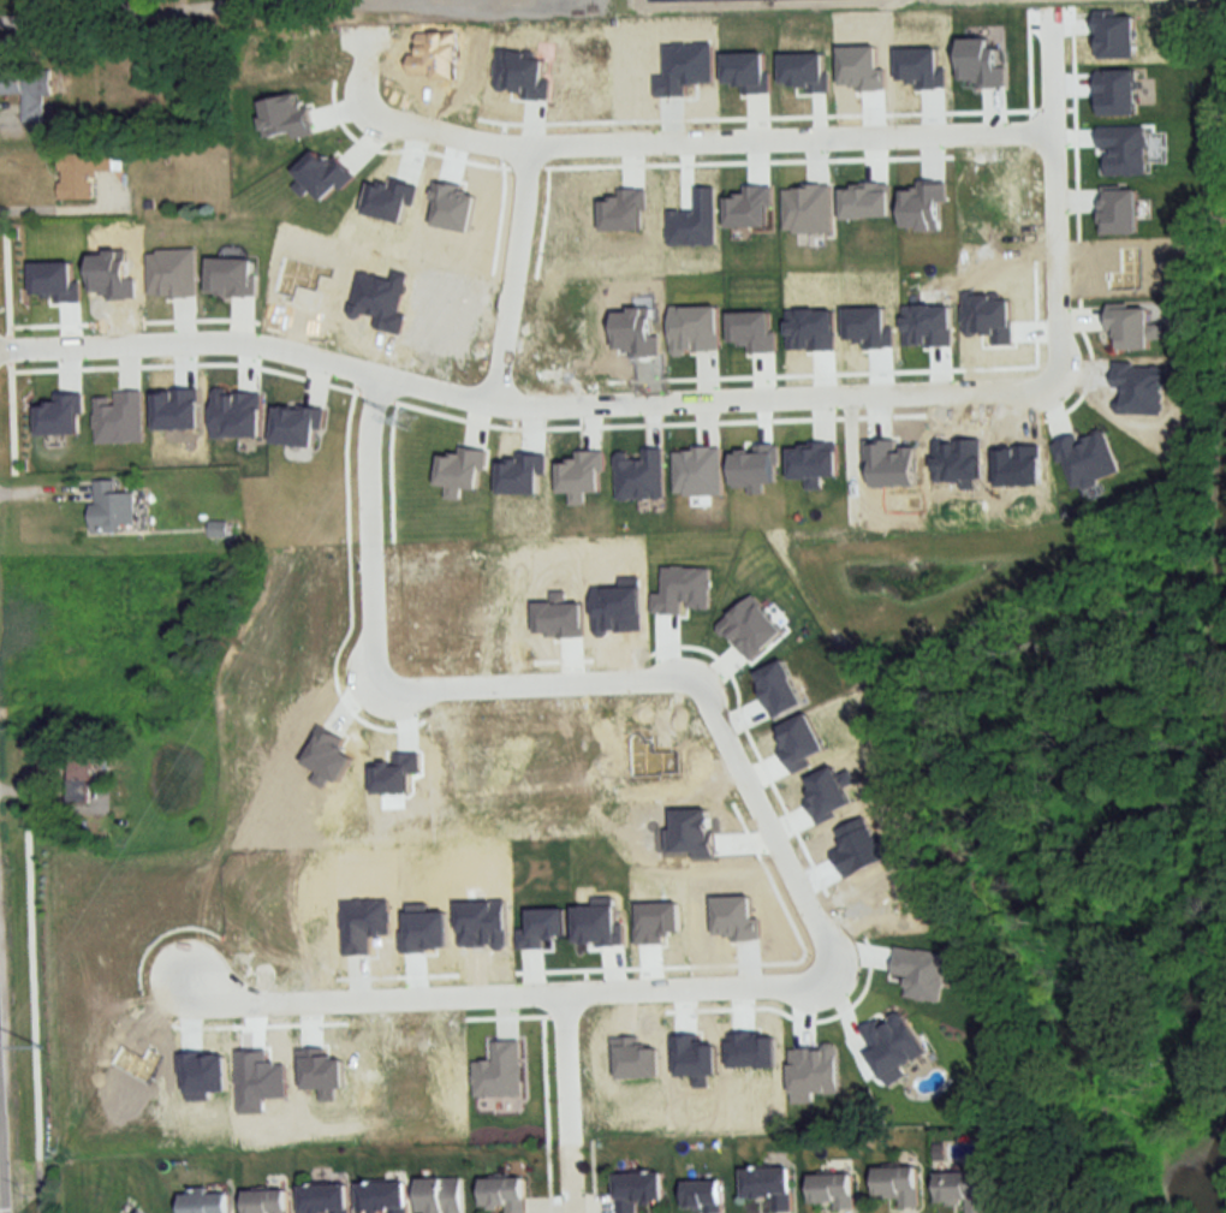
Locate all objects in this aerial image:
road: (175, 13)
building: (26, 91)
road: (665, 138)
building: (83, 173)
road: (1053, 196)
road: (511, 274)
road: (525, 403)
building: (113, 415)
power tower: (406, 417)
road: (44, 484)
building: (113, 510)
road: (365, 528)
road: (532, 685)
building: (79, 773)
road: (46, 801)
road: (763, 825)
road: (507, 994)
power tower: (38, 1062)
road: (563, 1104)
road: (42, 1185)
building: (898, 1187)
building: (768, 1188)
building: (637, 1191)
building: (963, 1191)
building: (832, 1193)
building: (504, 1195)
building: (440, 1196)
building: (701, 1196)
building: (322, 1197)
building: (381, 1199)
building: (202, 1201)
building: (263, 1201)
park: (1225, 1202)

